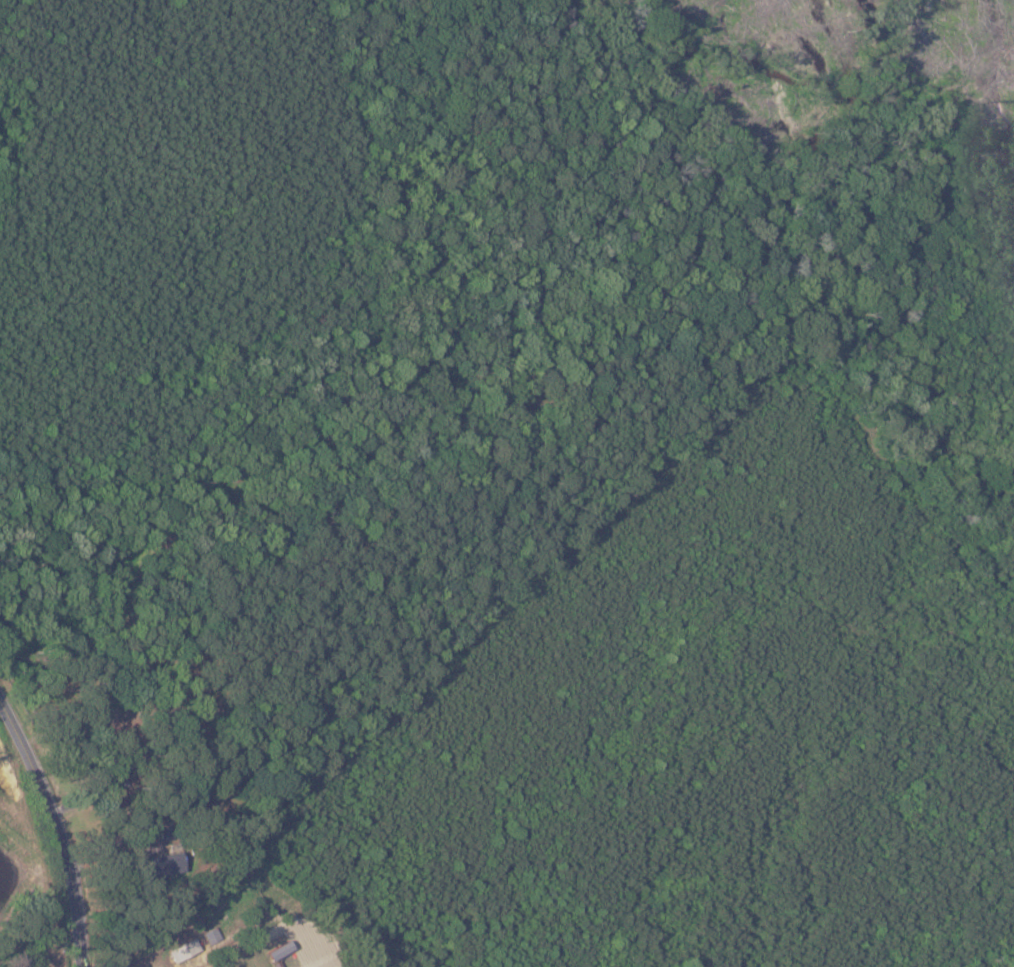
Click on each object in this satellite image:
road: (61, 825)
building: (165, 865)
building: (184, 950)
road: (226, 966)

